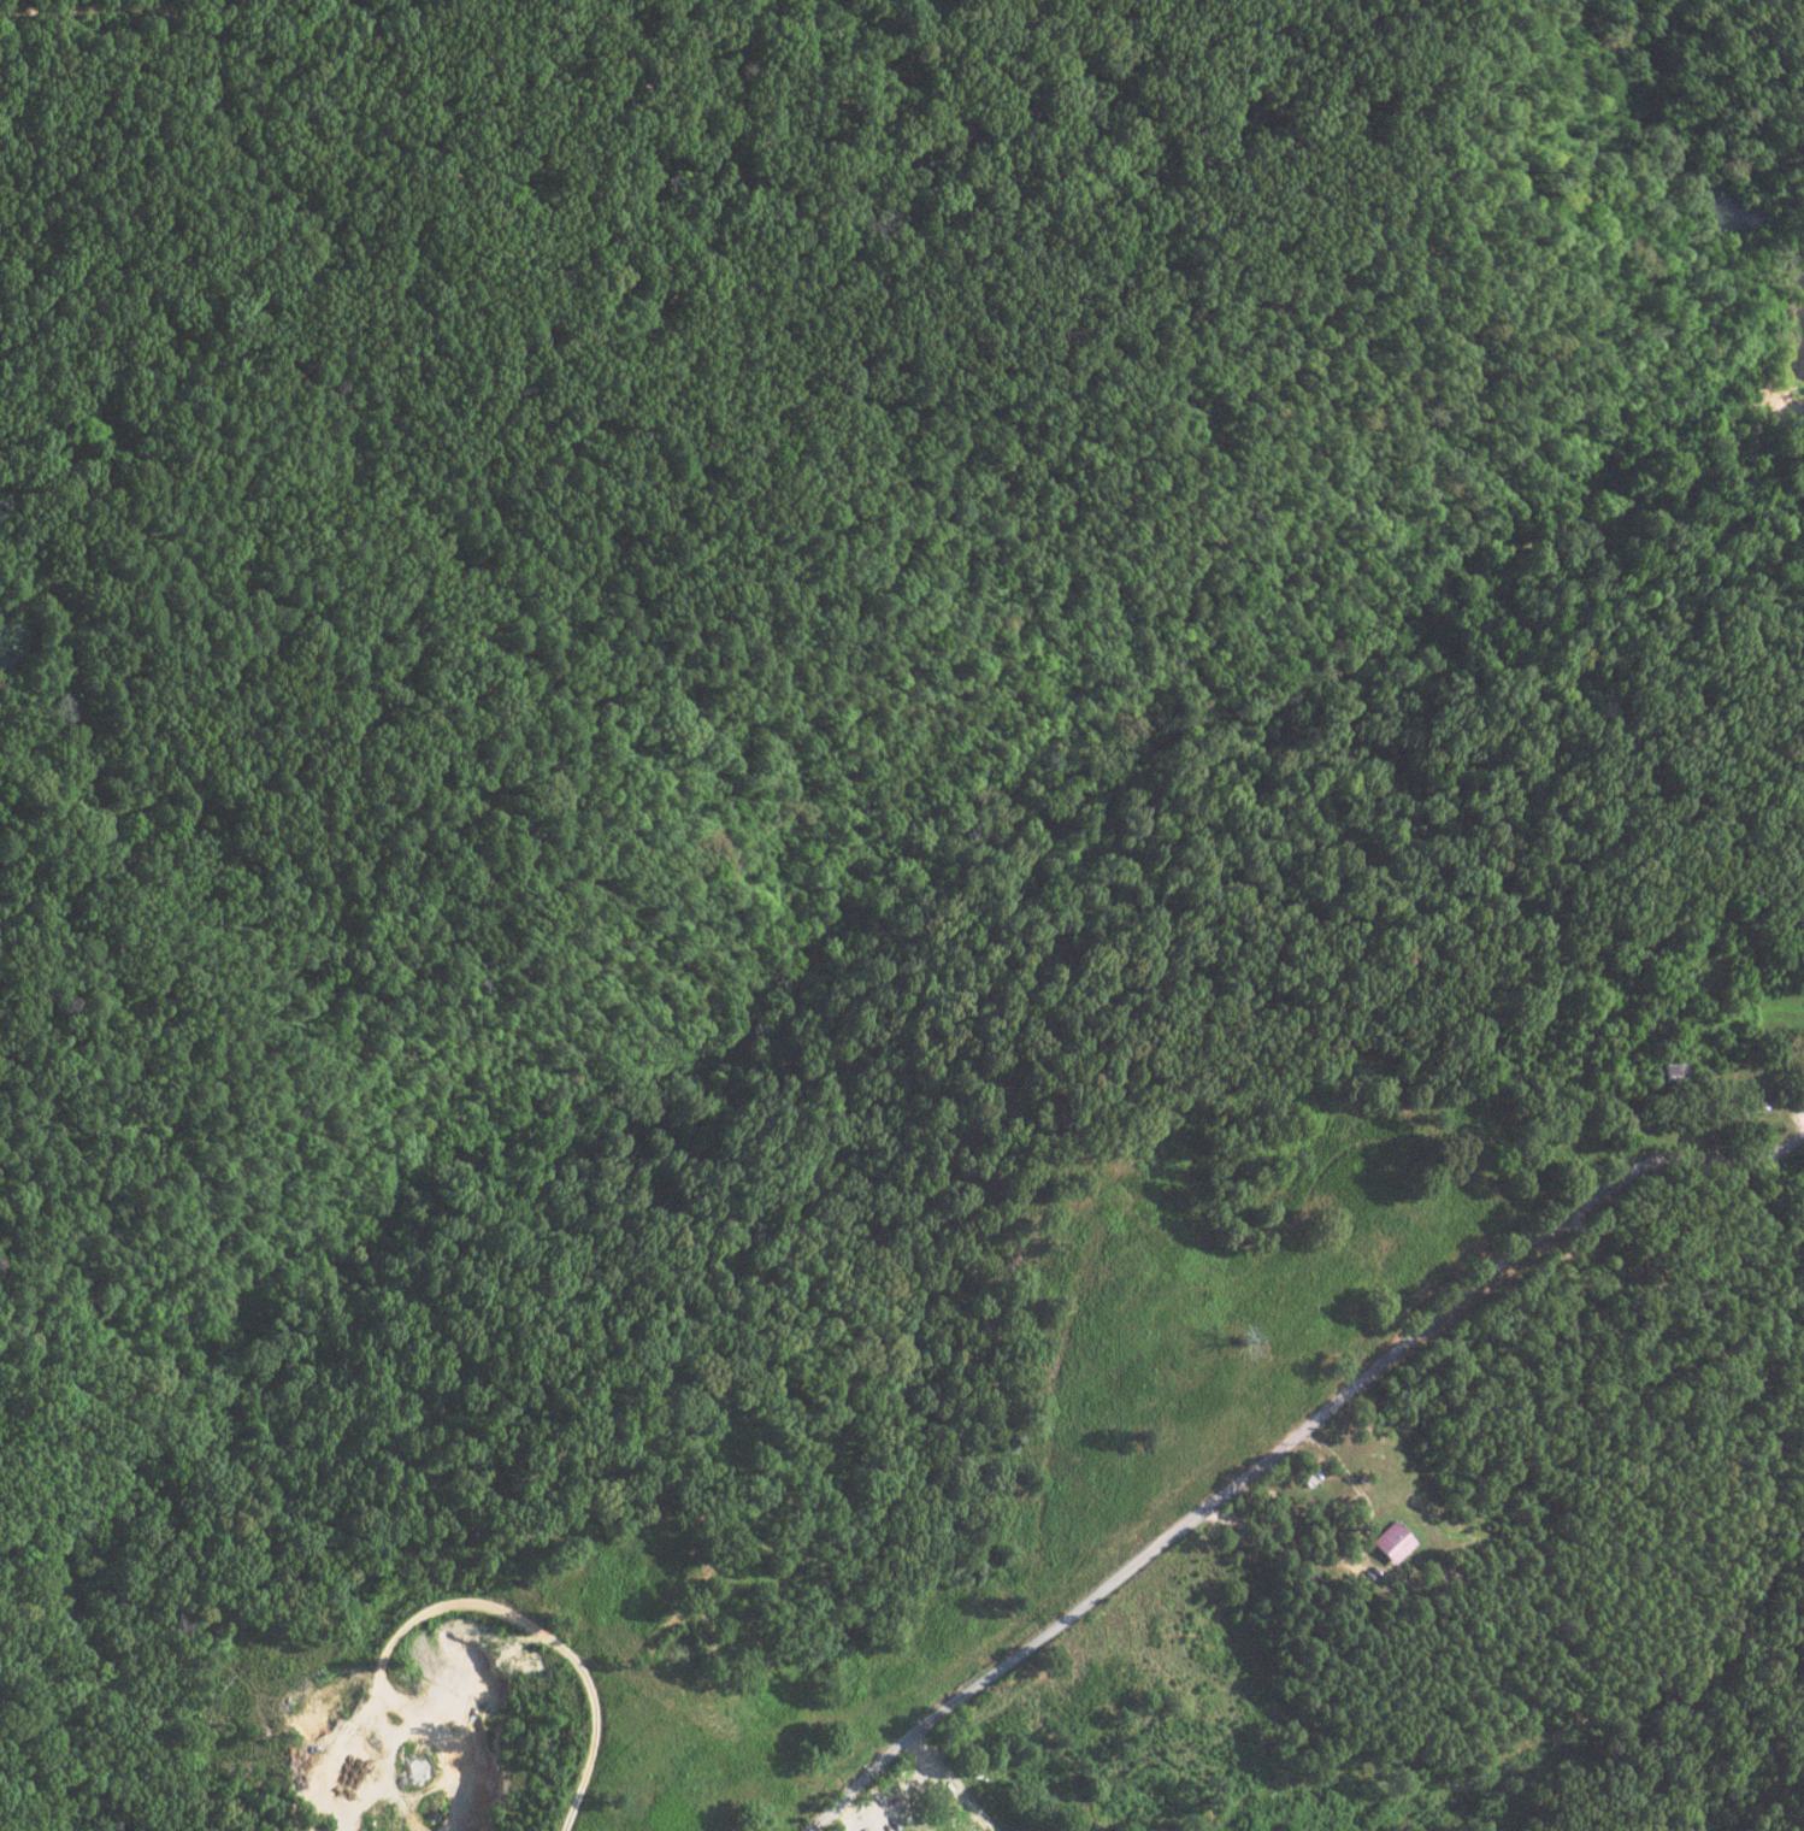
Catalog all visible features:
road: (1283, 1449)
building: (1391, 1542)

